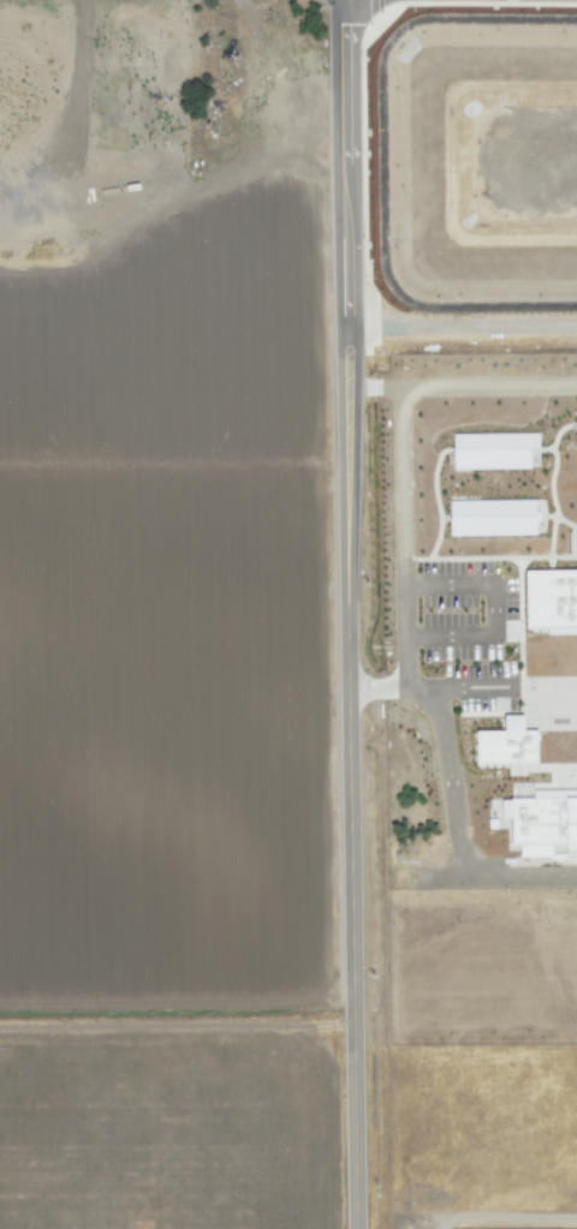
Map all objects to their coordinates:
road: (340, 192)
road: (487, 386)
road: (370, 387)
building: (576, 424)
building: (493, 451)
building: (493, 518)
road: (401, 537)
building: (551, 602)
road: (495, 608)
road: (457, 687)
building: (508, 748)
road: (451, 797)
road: (350, 807)
building: (545, 825)
road: (456, 1221)

